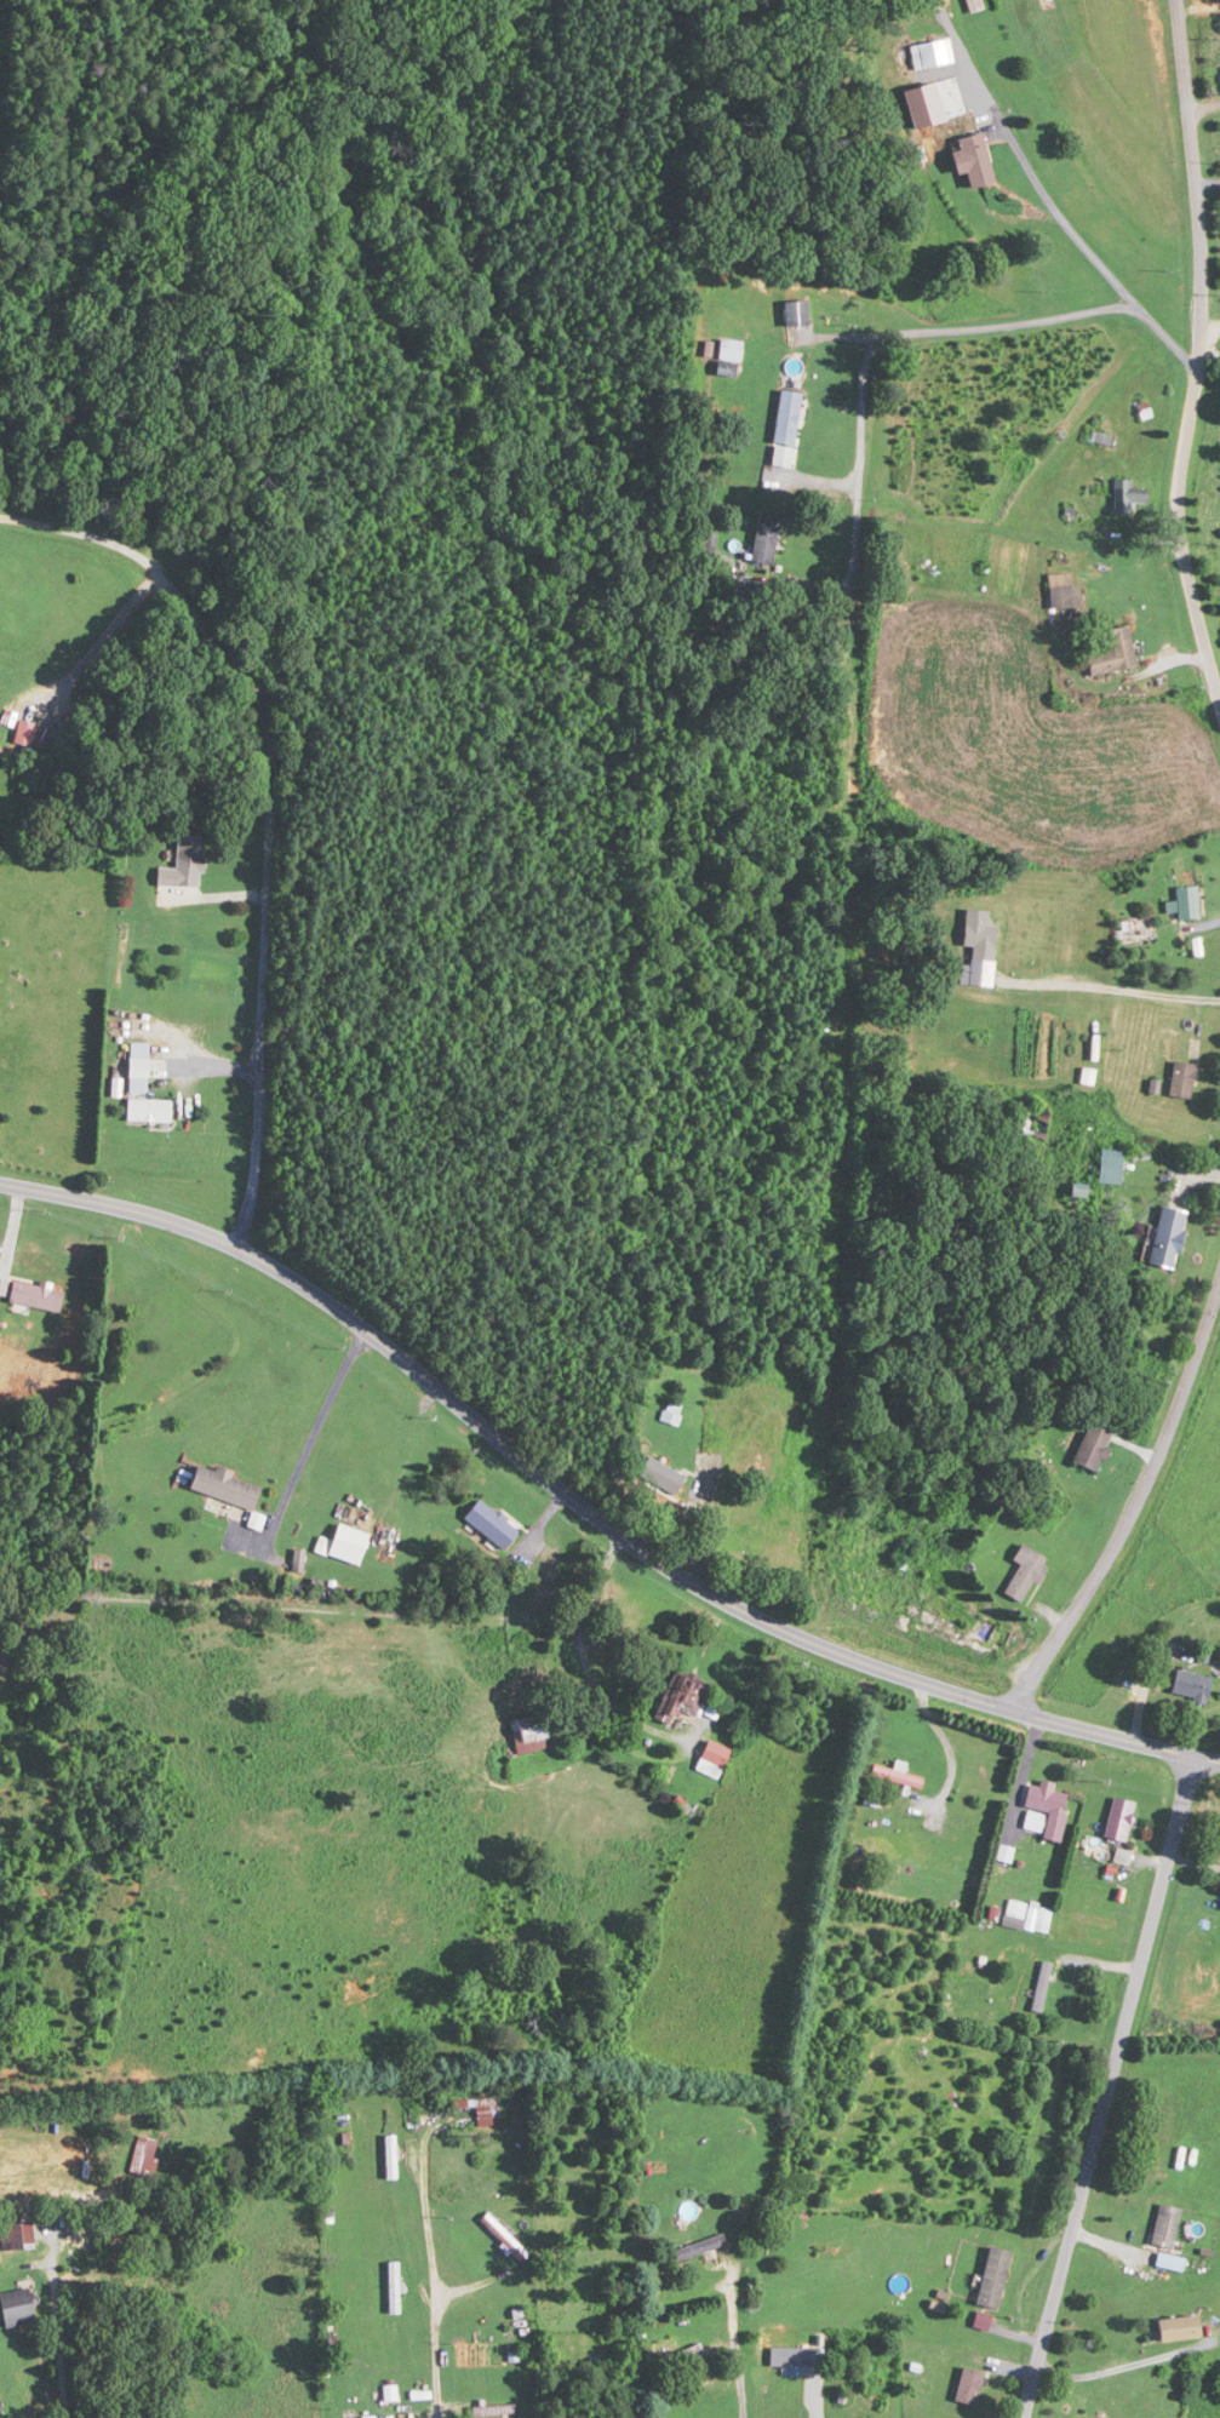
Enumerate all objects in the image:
building: (932, 53)
building: (973, 160)
road: (1010, 161)
building: (795, 313)
road: (922, 331)
road: (1209, 332)
road: (1197, 350)
building: (728, 356)
building: (786, 417)
building: (1127, 495)
road: (86, 533)
building: (764, 537)
building: (1063, 591)
building: (1112, 652)
building: (184, 861)
road: (273, 894)
building: (1187, 901)
building: (975, 927)
road: (1094, 975)
building: (138, 1068)
road: (208, 1068)
building: (1181, 1079)
building: (149, 1111)
building: (1035, 1119)
building: (1109, 1164)
building: (1167, 1237)
building: (35, 1297)
building: (674, 1416)
road: (310, 1437)
building: (1093, 1446)
building: (661, 1477)
building: (225, 1486)
road: (1139, 1505)
road: (590, 1507)
building: (491, 1524)
building: (349, 1543)
building: (1025, 1574)
building: (1191, 1685)
building: (686, 1697)
road: (618, 1709)
building: (531, 1734)
building: (714, 1759)
building: (897, 1776)
building: (1044, 1811)
building: (1119, 1820)
building: (1014, 1910)
building: (1038, 1918)
building: (1042, 1987)
road: (1109, 2086)
building: (485, 2110)
building: (145, 2156)
building: (393, 2156)
building: (17, 2231)
building: (506, 2239)
building: (700, 2247)
building: (995, 2277)
building: (395, 2287)
road: (433, 2288)
building: (18, 2308)
building: (1179, 2328)
road: (740, 2343)
building: (682, 2356)
building: (791, 2357)
road: (1134, 2363)
building: (970, 2387)
road: (817, 2397)
road: (64, 2401)

